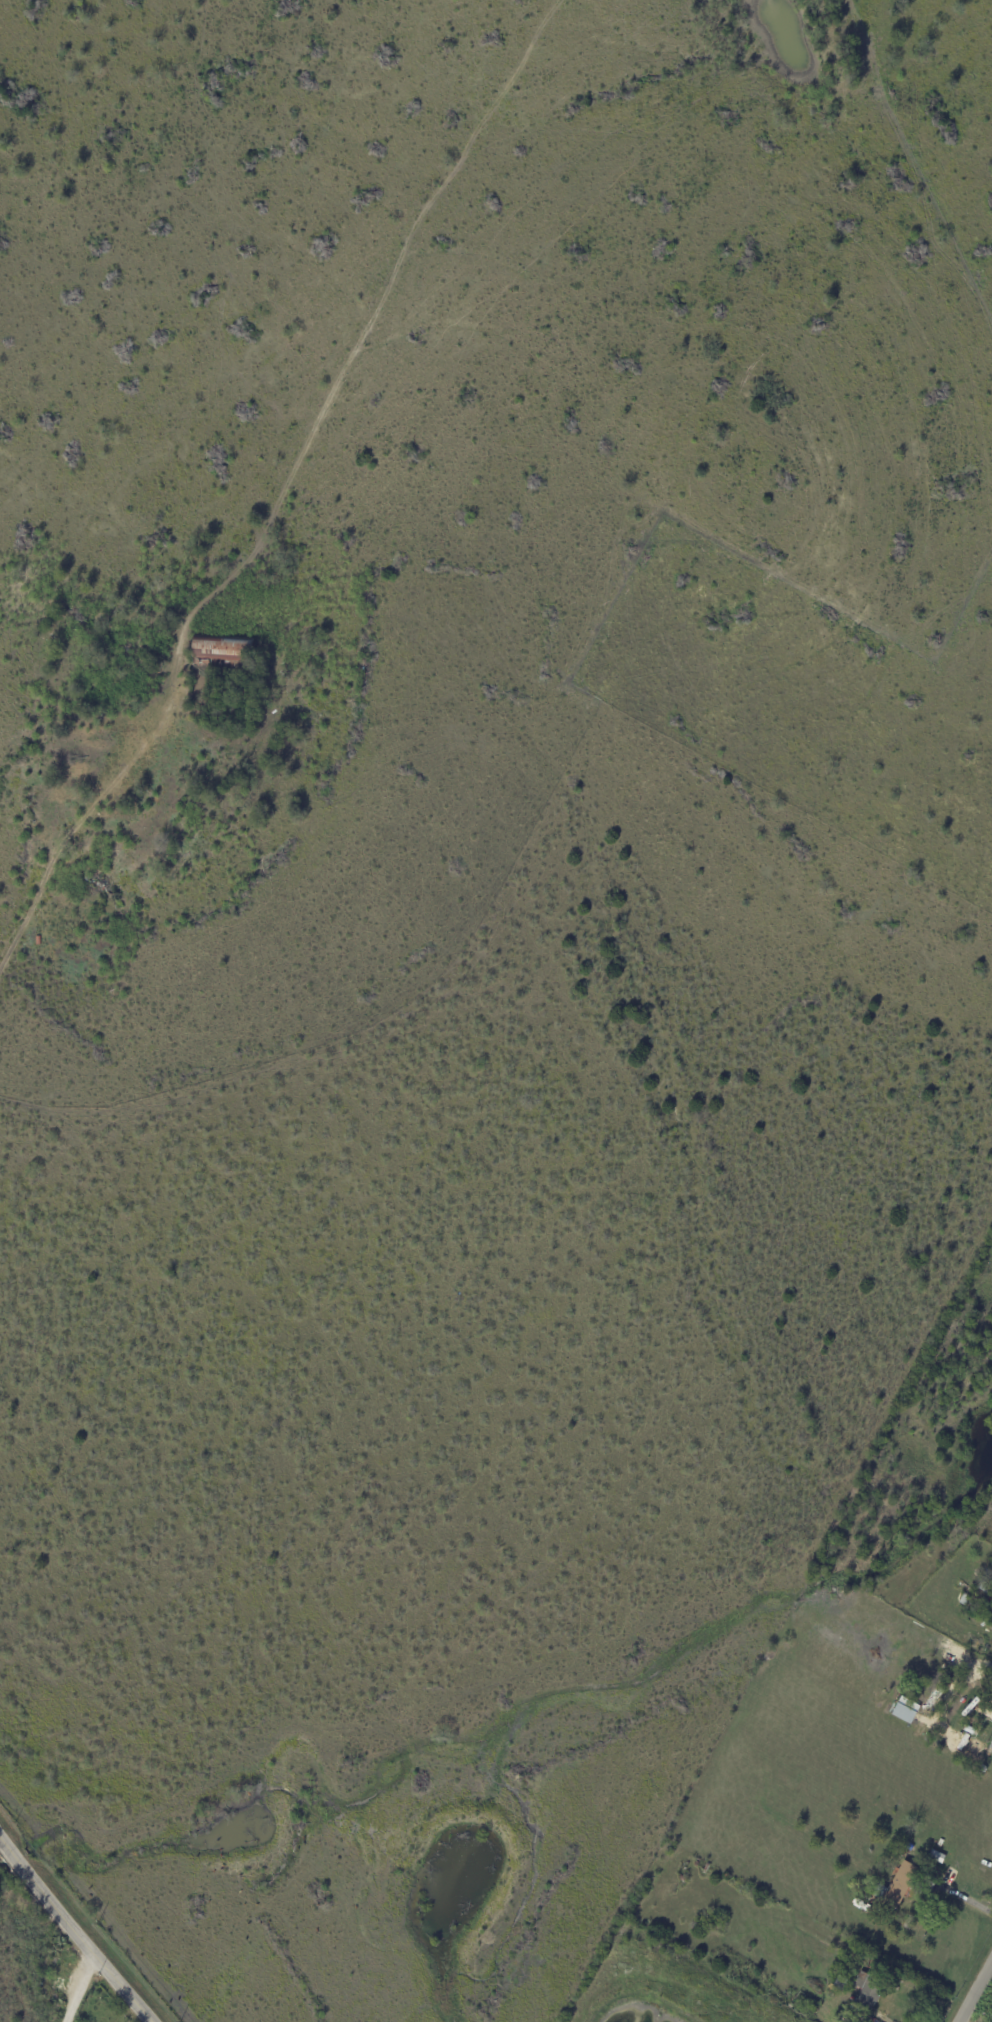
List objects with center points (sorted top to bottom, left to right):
building: (222, 654)
building: (148, 812)
road: (63, 832)
building: (985, 1586)
building: (964, 1600)
building: (941, 1685)
building: (906, 1711)
building: (969, 1731)
building: (991, 1747)
building: (910, 1848)
building: (905, 1854)
building: (937, 1858)
building: (897, 1888)
road: (958, 1894)
road: (74, 1930)
road: (697, 1977)
building: (840, 1984)
road: (81, 1989)
building: (868, 1991)
road: (975, 1991)
building: (816, 2011)

